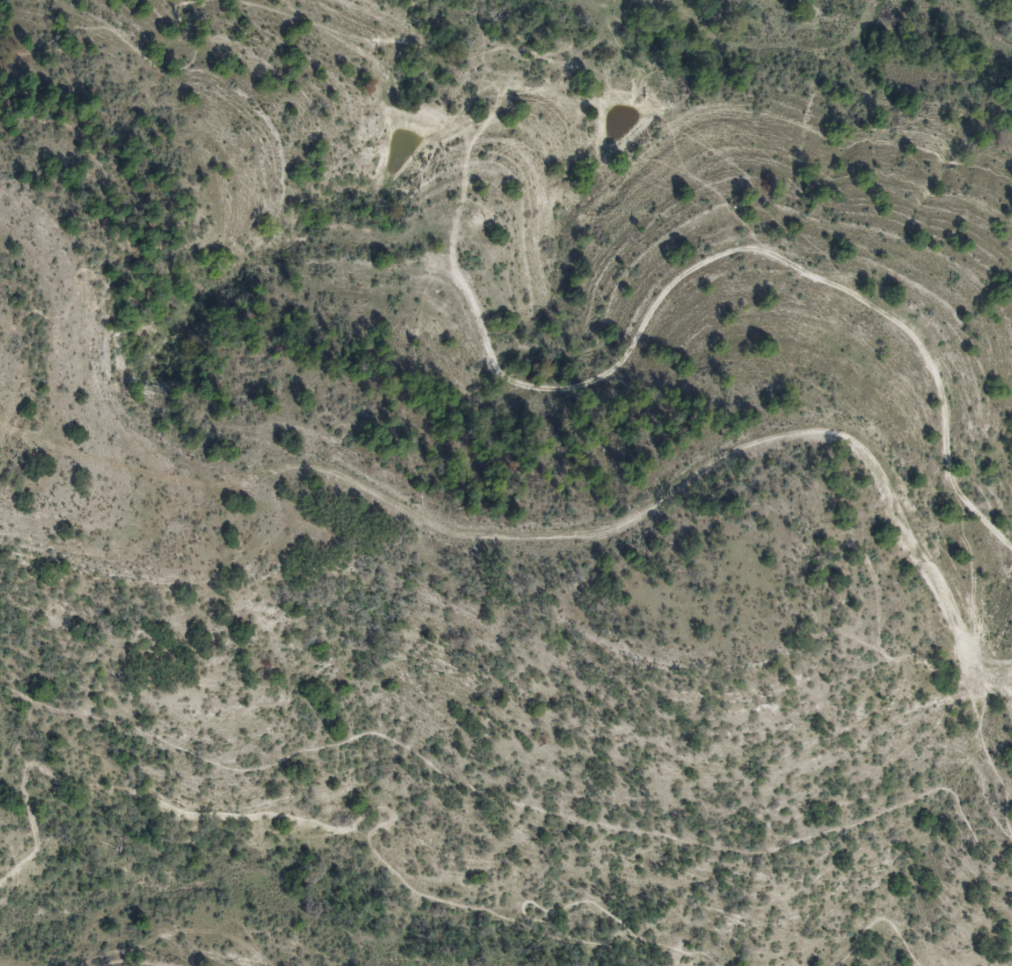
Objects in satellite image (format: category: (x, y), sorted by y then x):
road: (516, 802)
road: (566, 906)
road: (877, 920)

